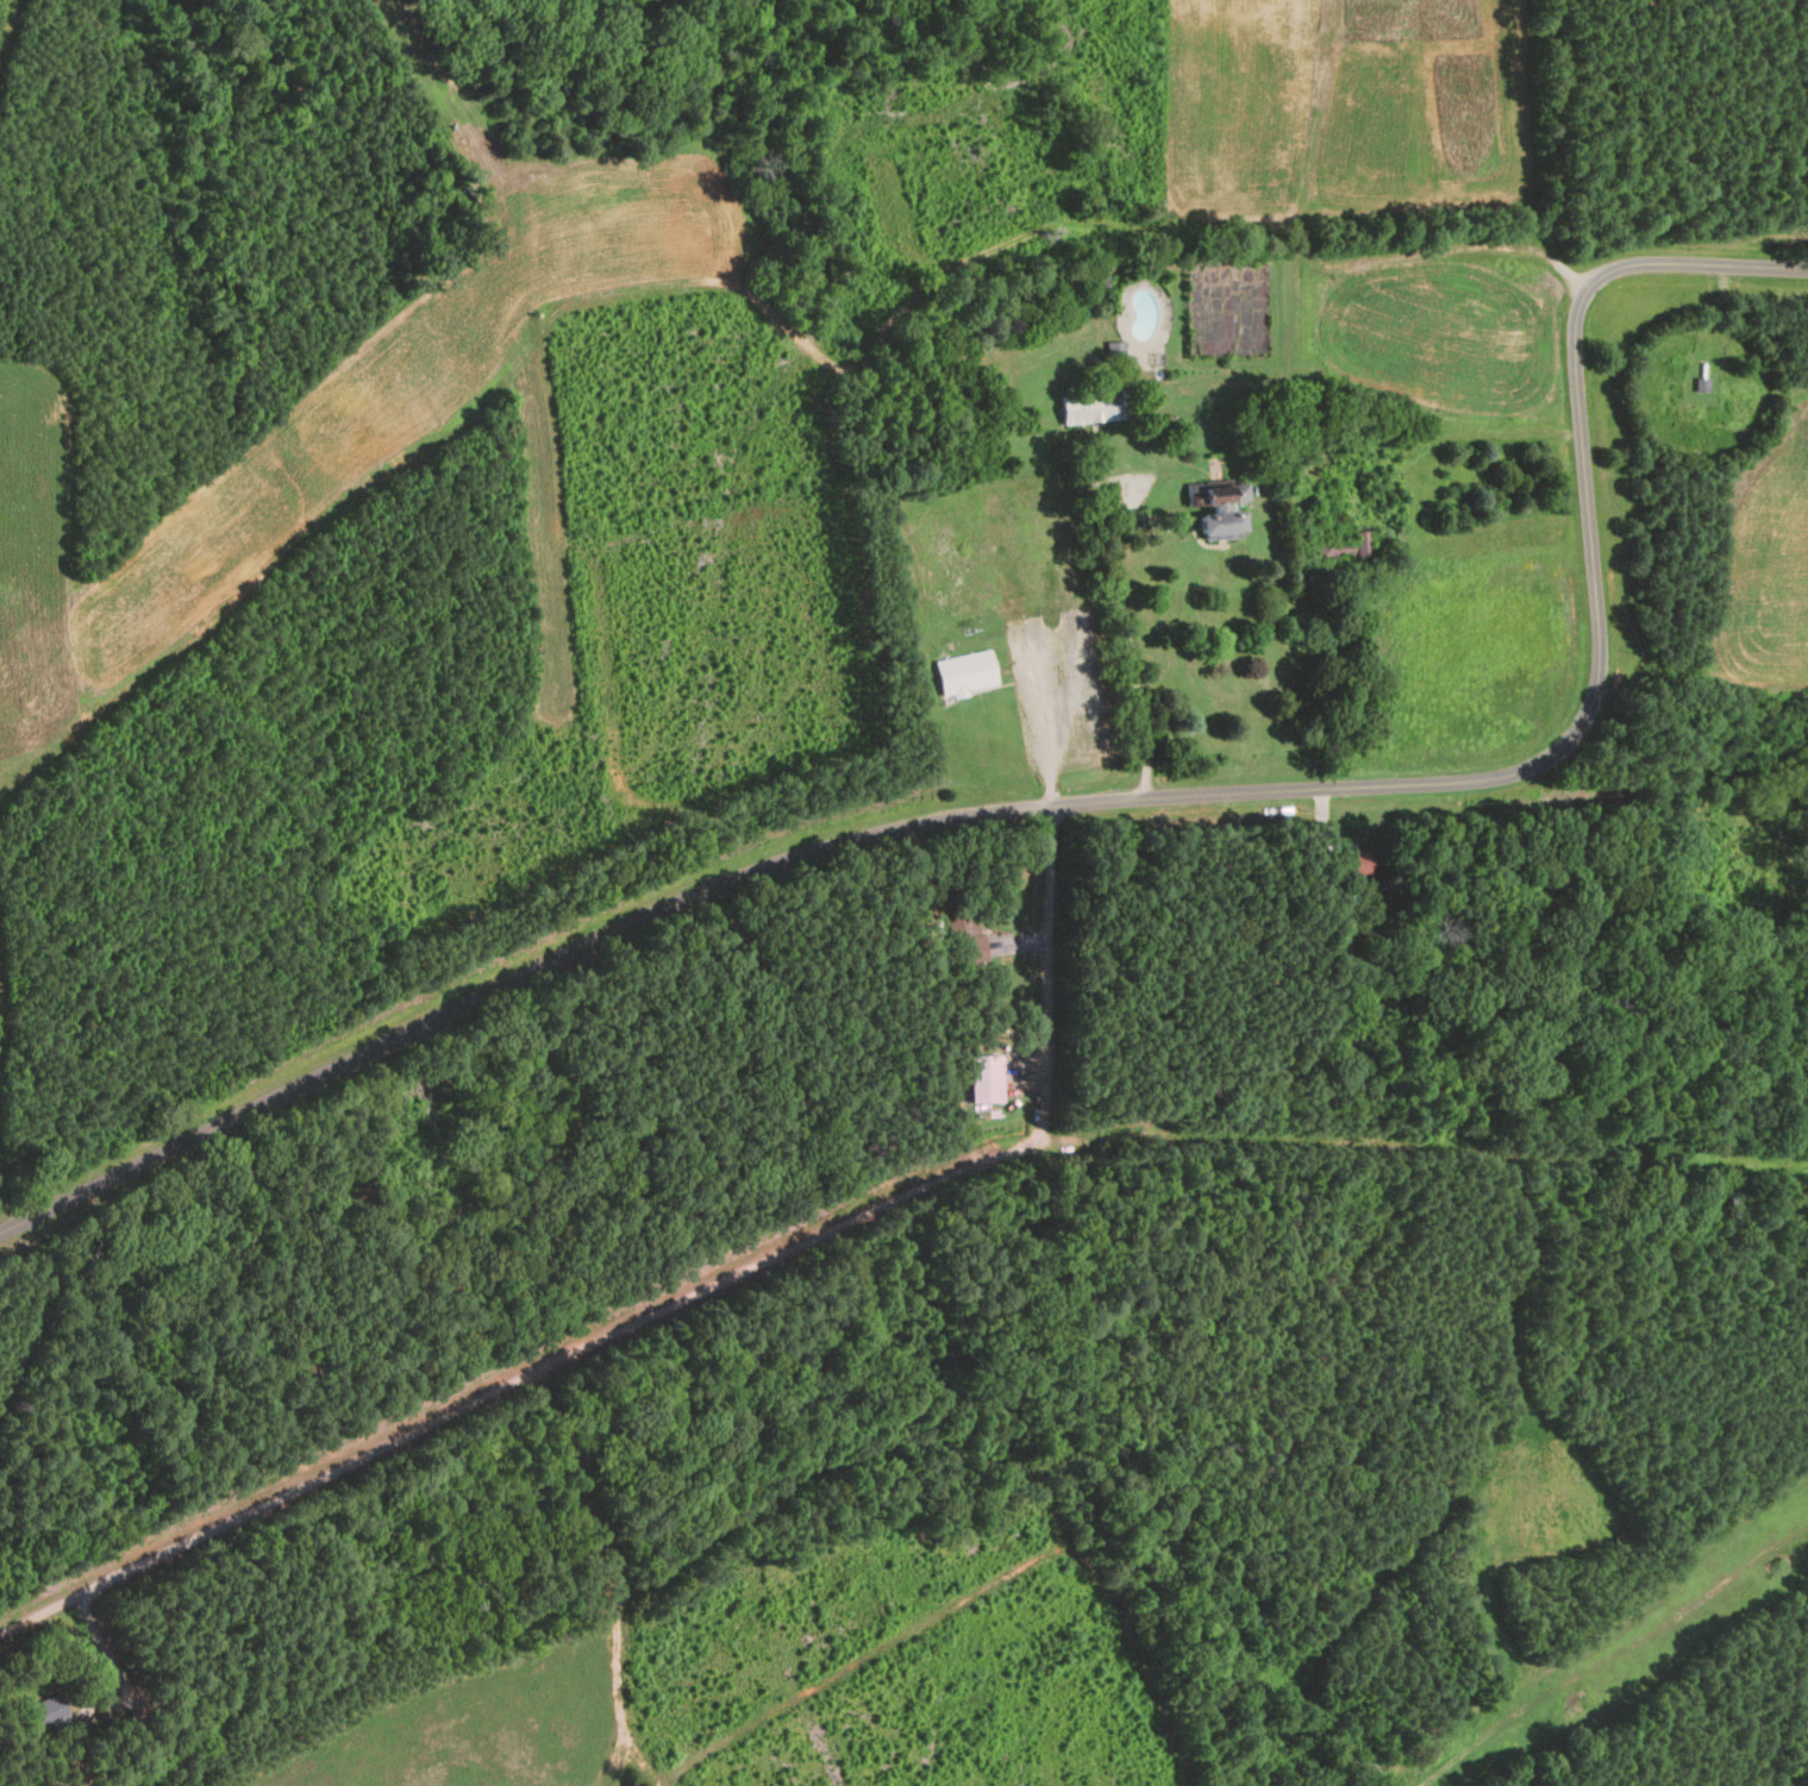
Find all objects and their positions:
building: (1116, 355)
building: (1703, 386)
building: (1095, 407)
building: (1221, 508)
building: (1346, 550)
road: (1133, 666)
building: (968, 675)
road: (1090, 801)
building: (1357, 863)
building: (972, 939)
building: (987, 1079)
road: (701, 1291)
road: (33, 1611)
building: (50, 1711)
building: (88, 1716)

